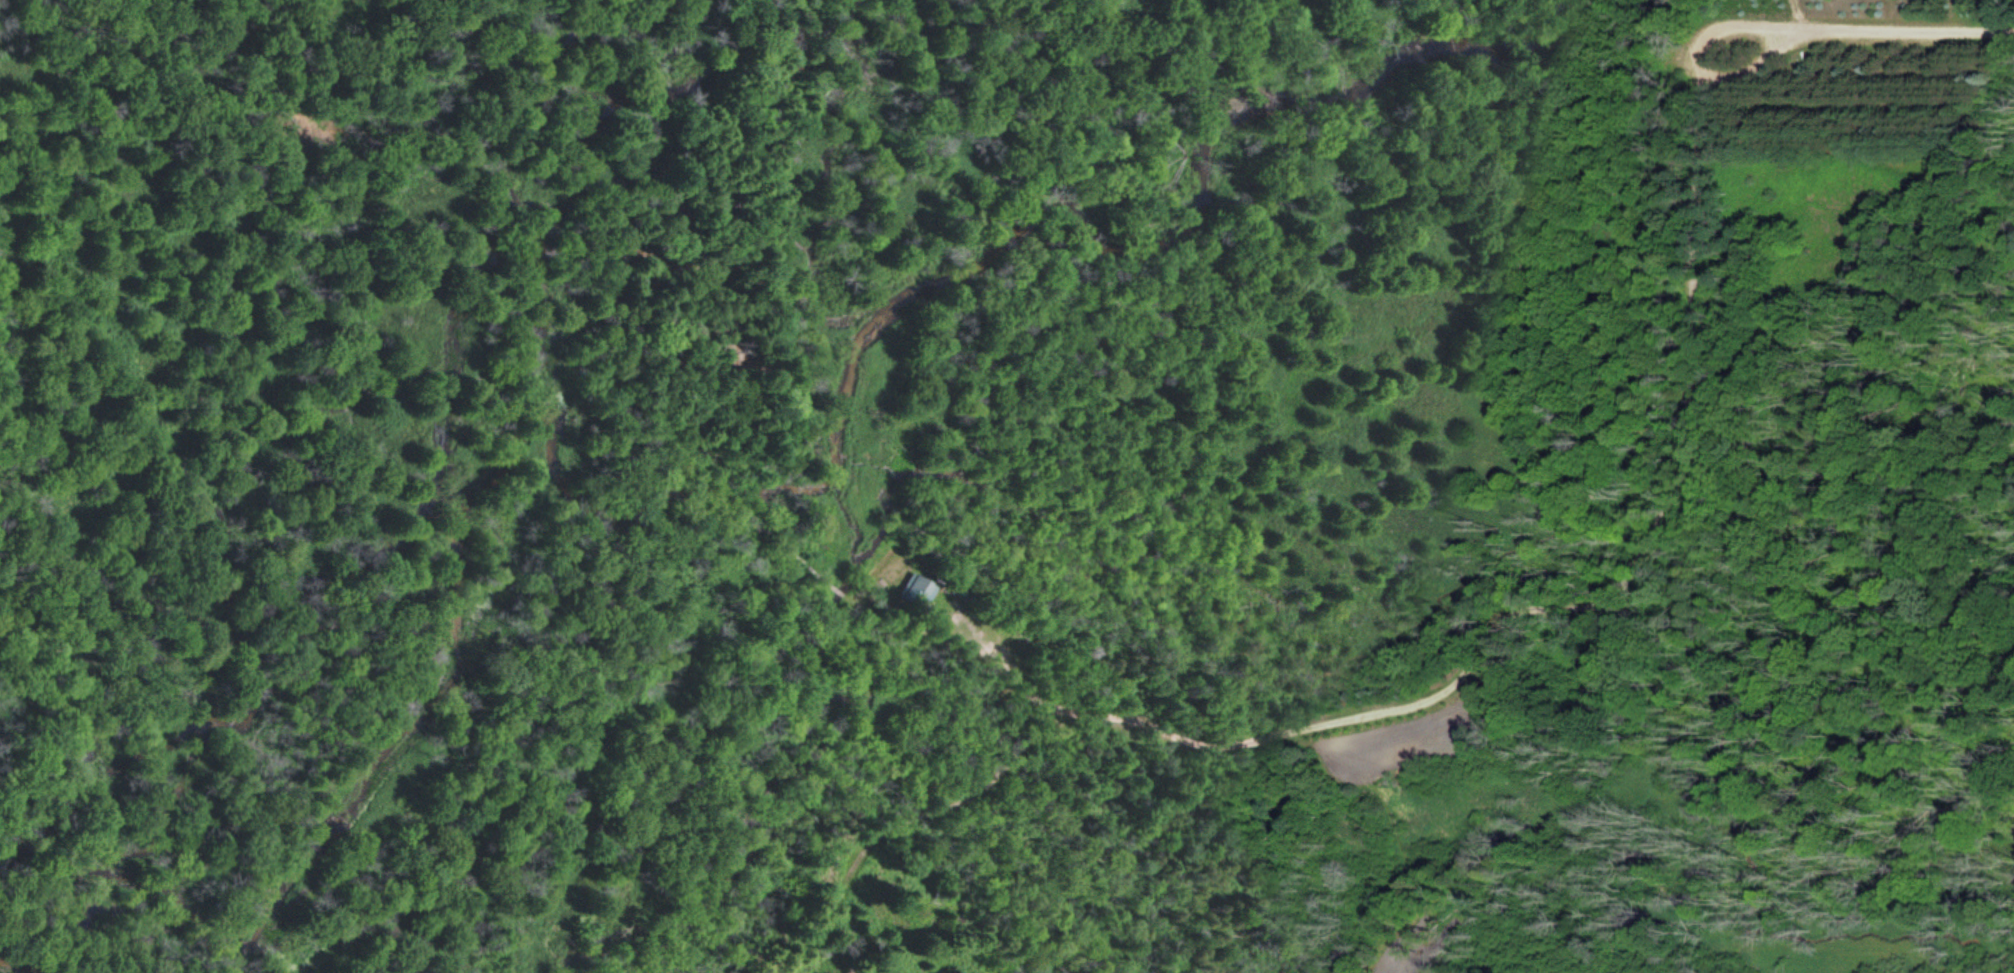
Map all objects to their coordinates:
road: (1907, 27)
road: (1703, 60)
building: (916, 589)

